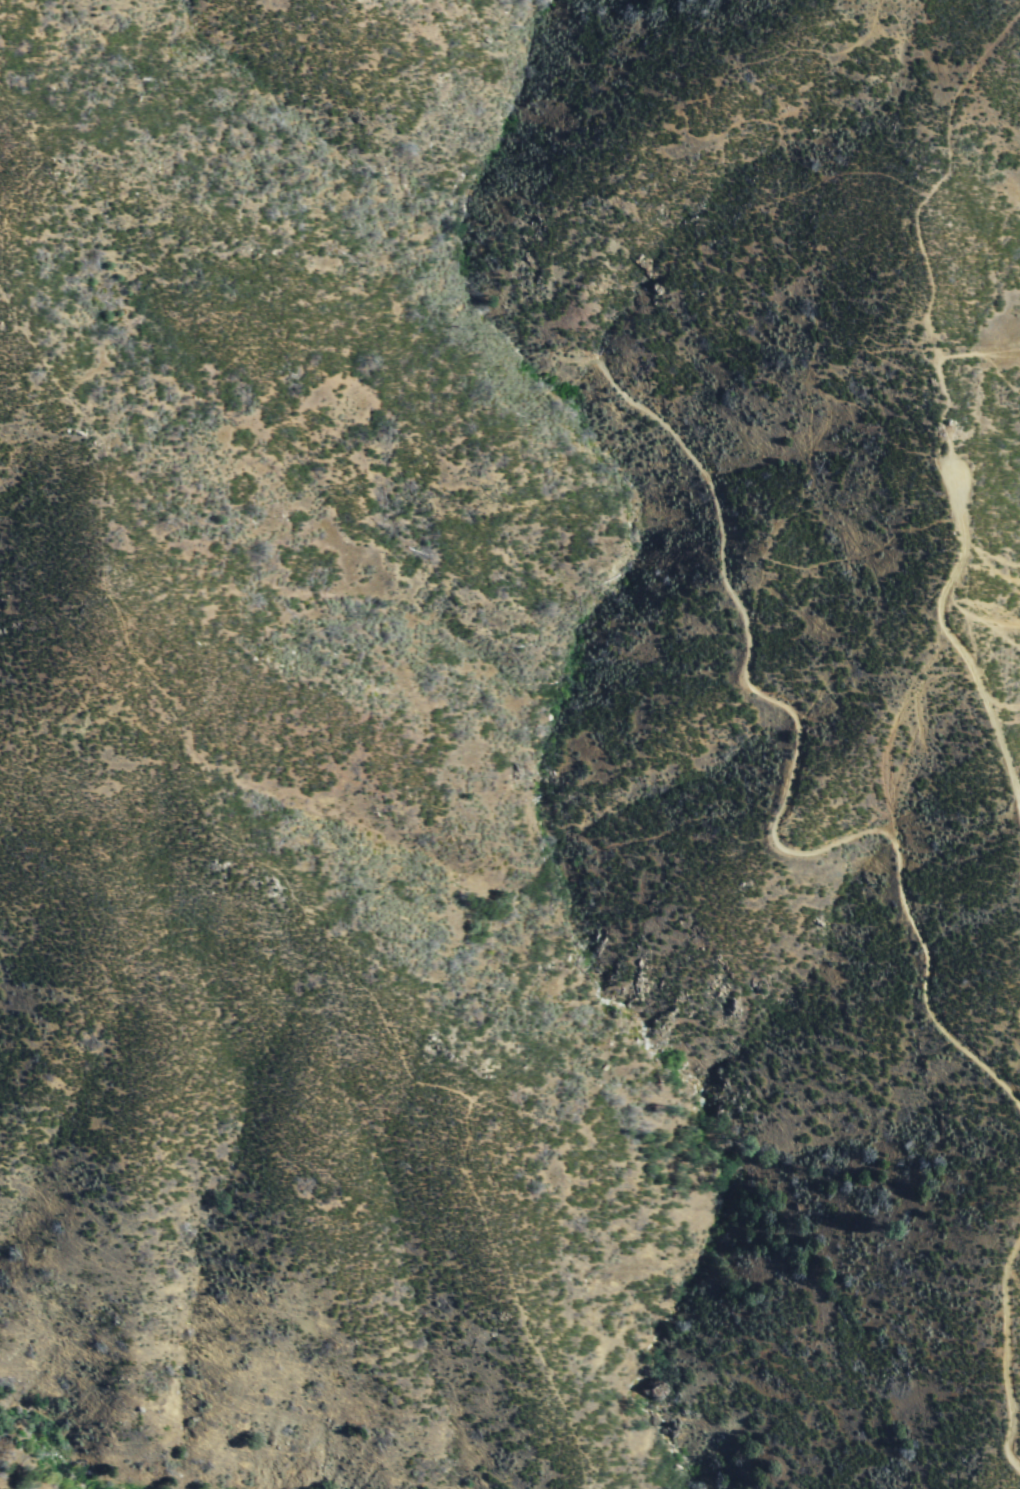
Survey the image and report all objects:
road: (956, 652)
road: (1004, 1352)

